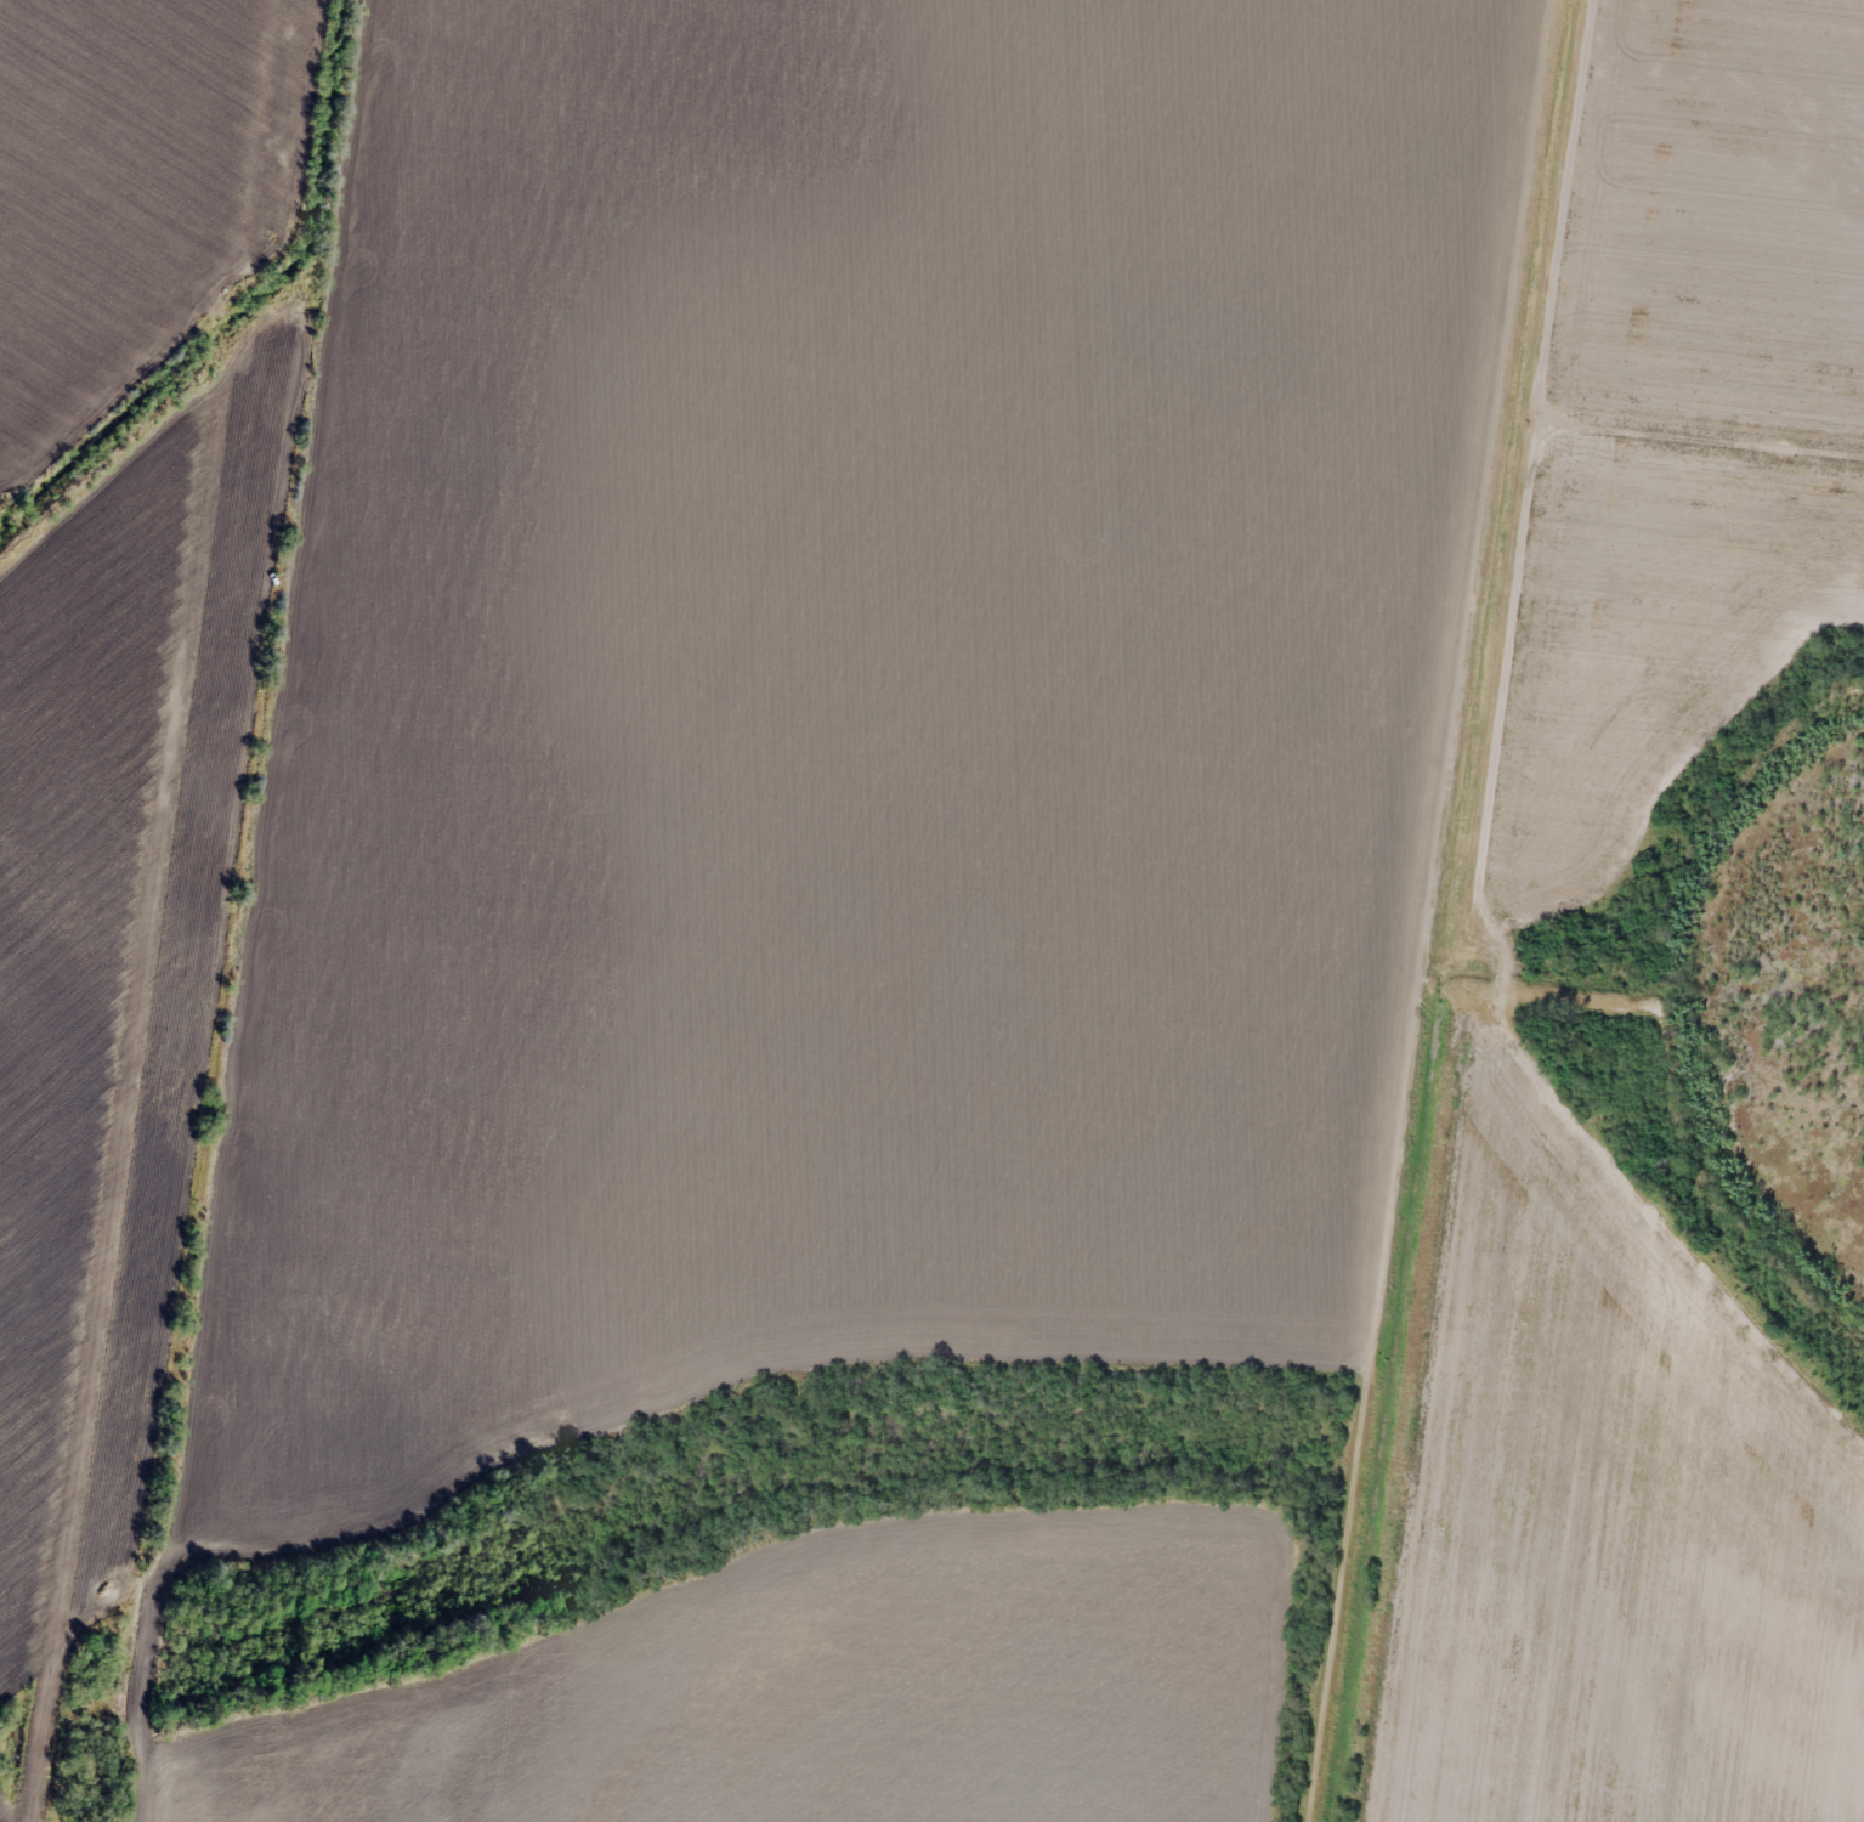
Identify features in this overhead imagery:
river: (1790, 1008)

